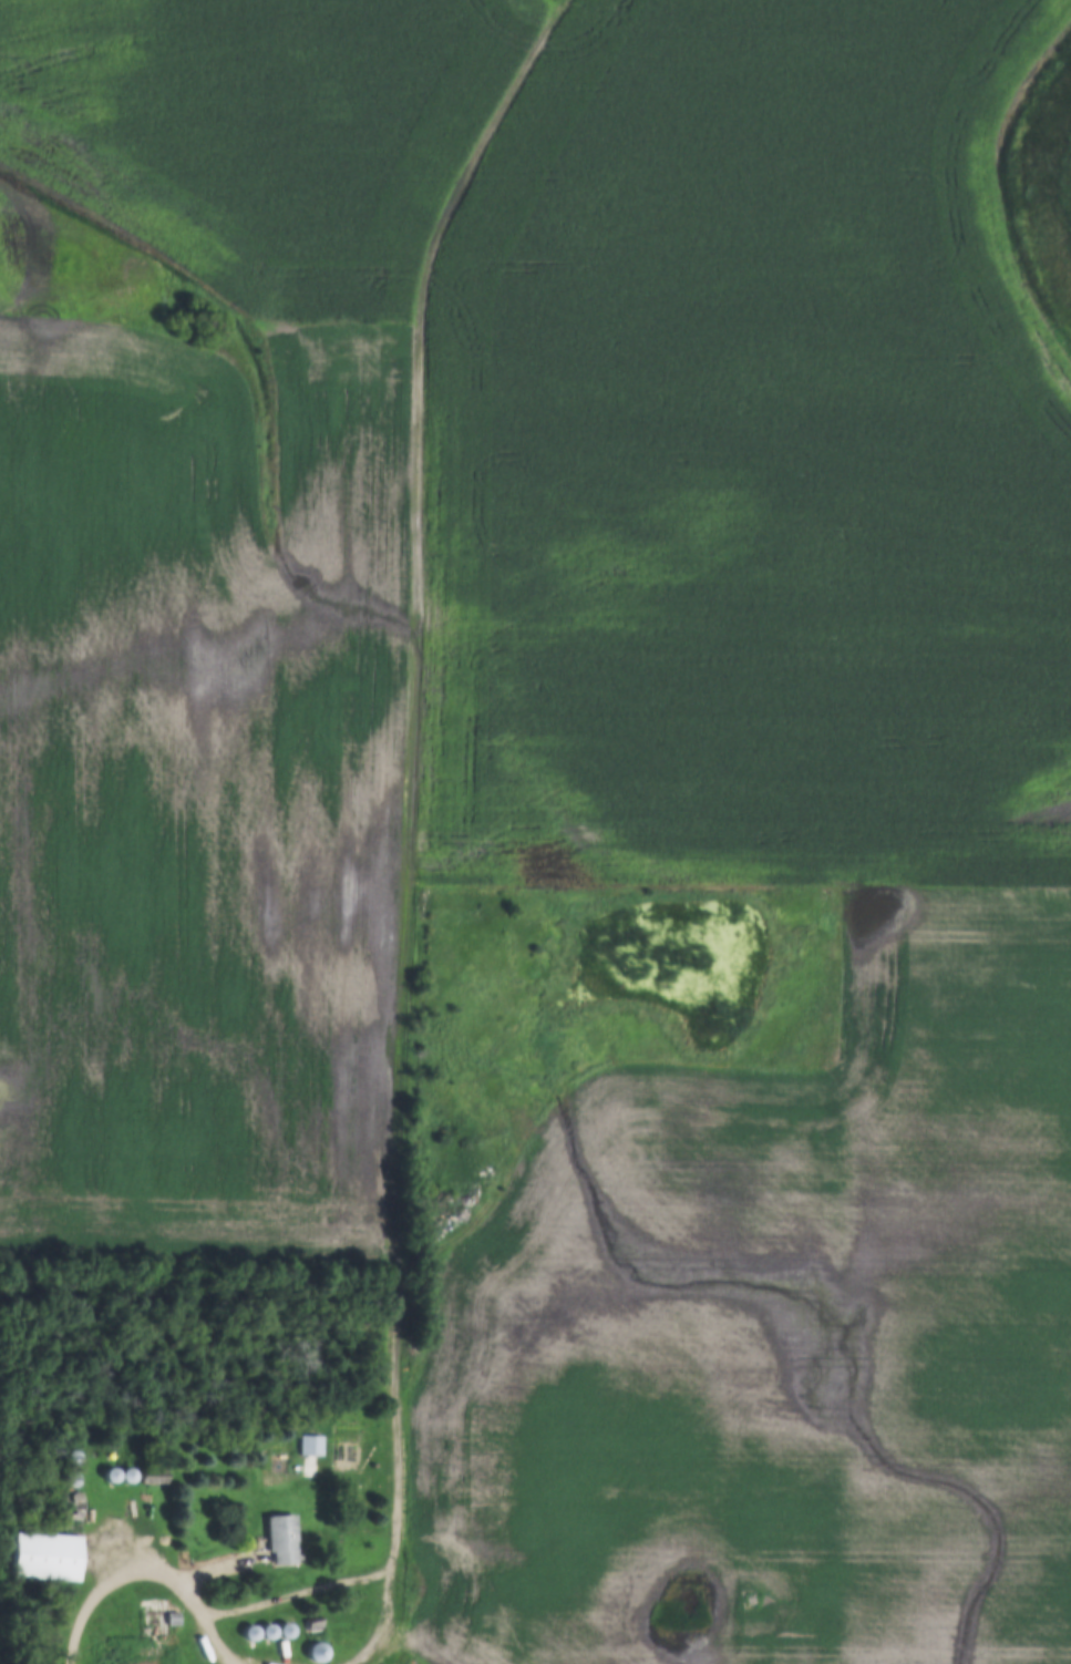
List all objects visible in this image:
building: (311, 1446)
building: (73, 1458)
silo: (73, 1458)
building: (110, 1475)
silo: (110, 1475)
building: (126, 1475)
silo: (126, 1475)
building: (153, 1478)
building: (75, 1479)
silo: (75, 1479)
building: (70, 1504)
building: (280, 1538)
building: (44, 1557)
road: (337, 1593)
building: (172, 1620)
road: (388, 1624)
building: (312, 1629)
building: (266, 1632)
silo: (266, 1632)
building: (284, 1632)
silo: (284, 1632)
building: (248, 1633)
silo: (248, 1633)
building: (342, 1643)
road: (215, 1644)
building: (316, 1652)
silo: (316, 1652)

